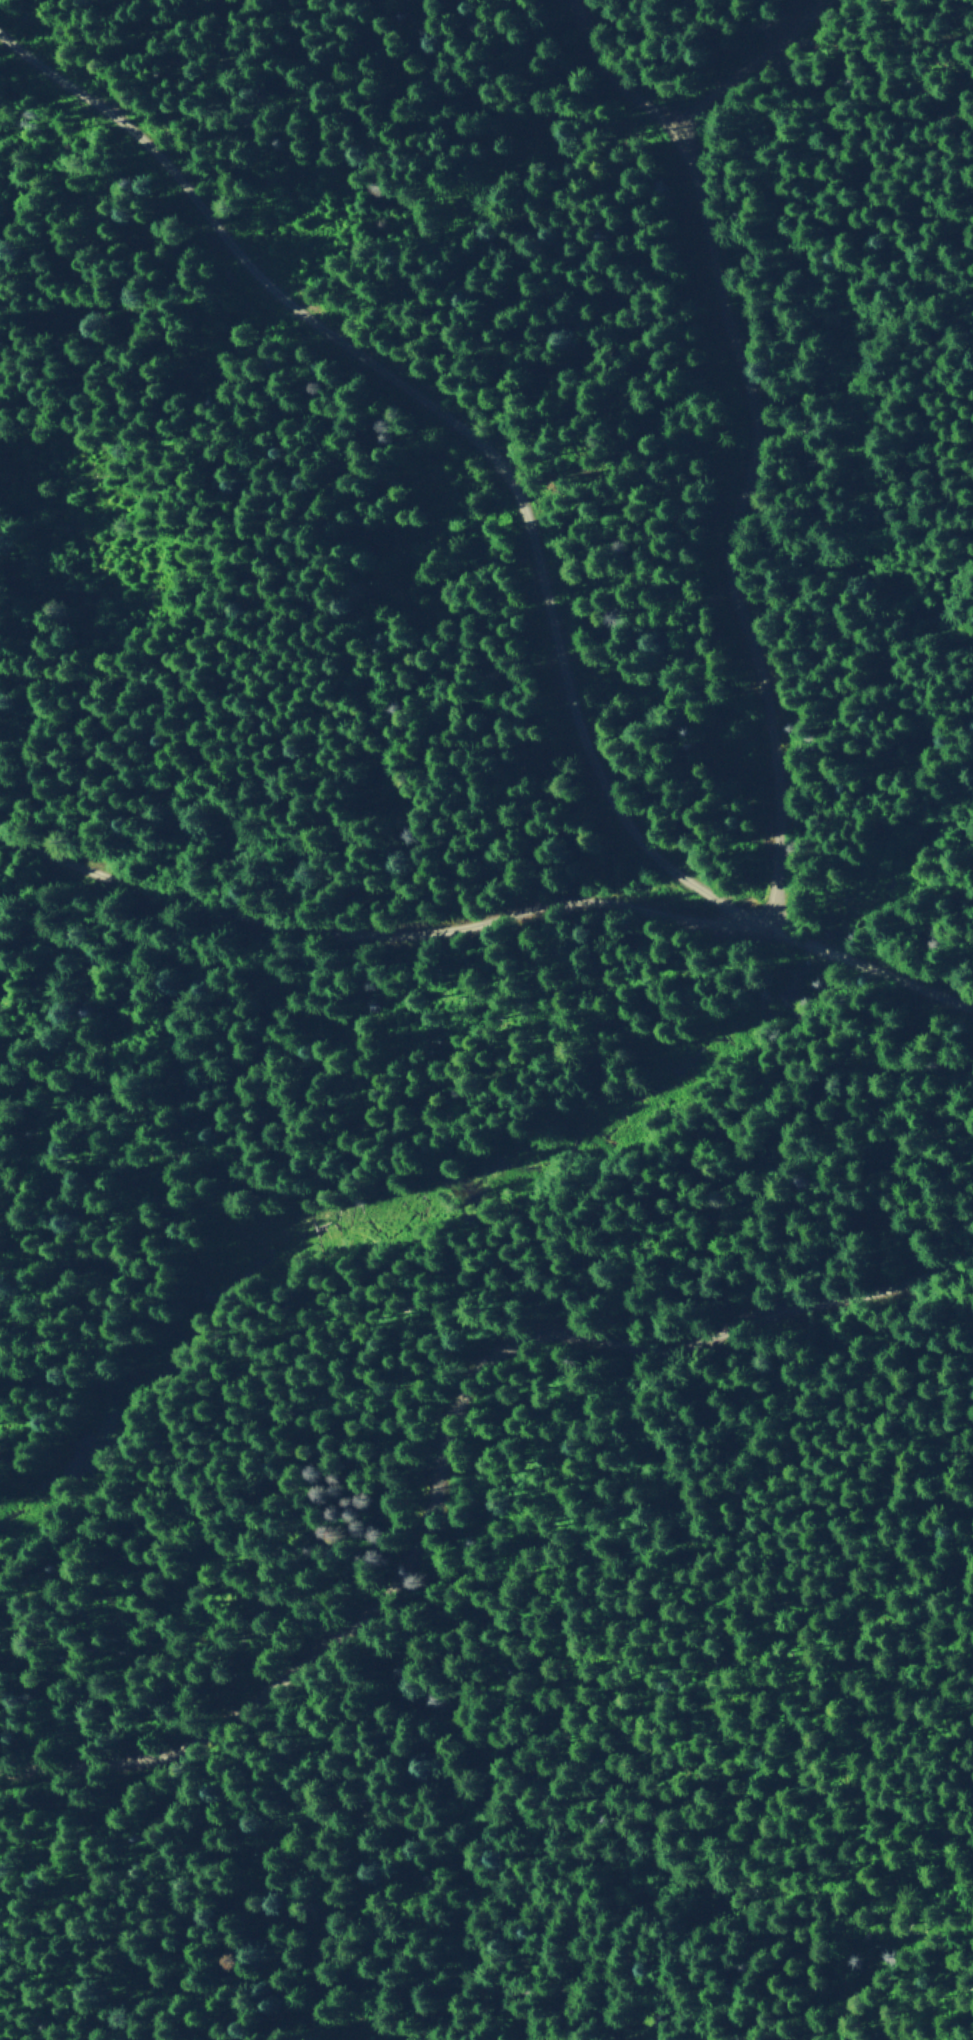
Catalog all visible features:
road: (755, 69)
road: (665, 854)
road: (490, 903)
road: (959, 957)
river: (422, 1158)
road: (426, 1320)

